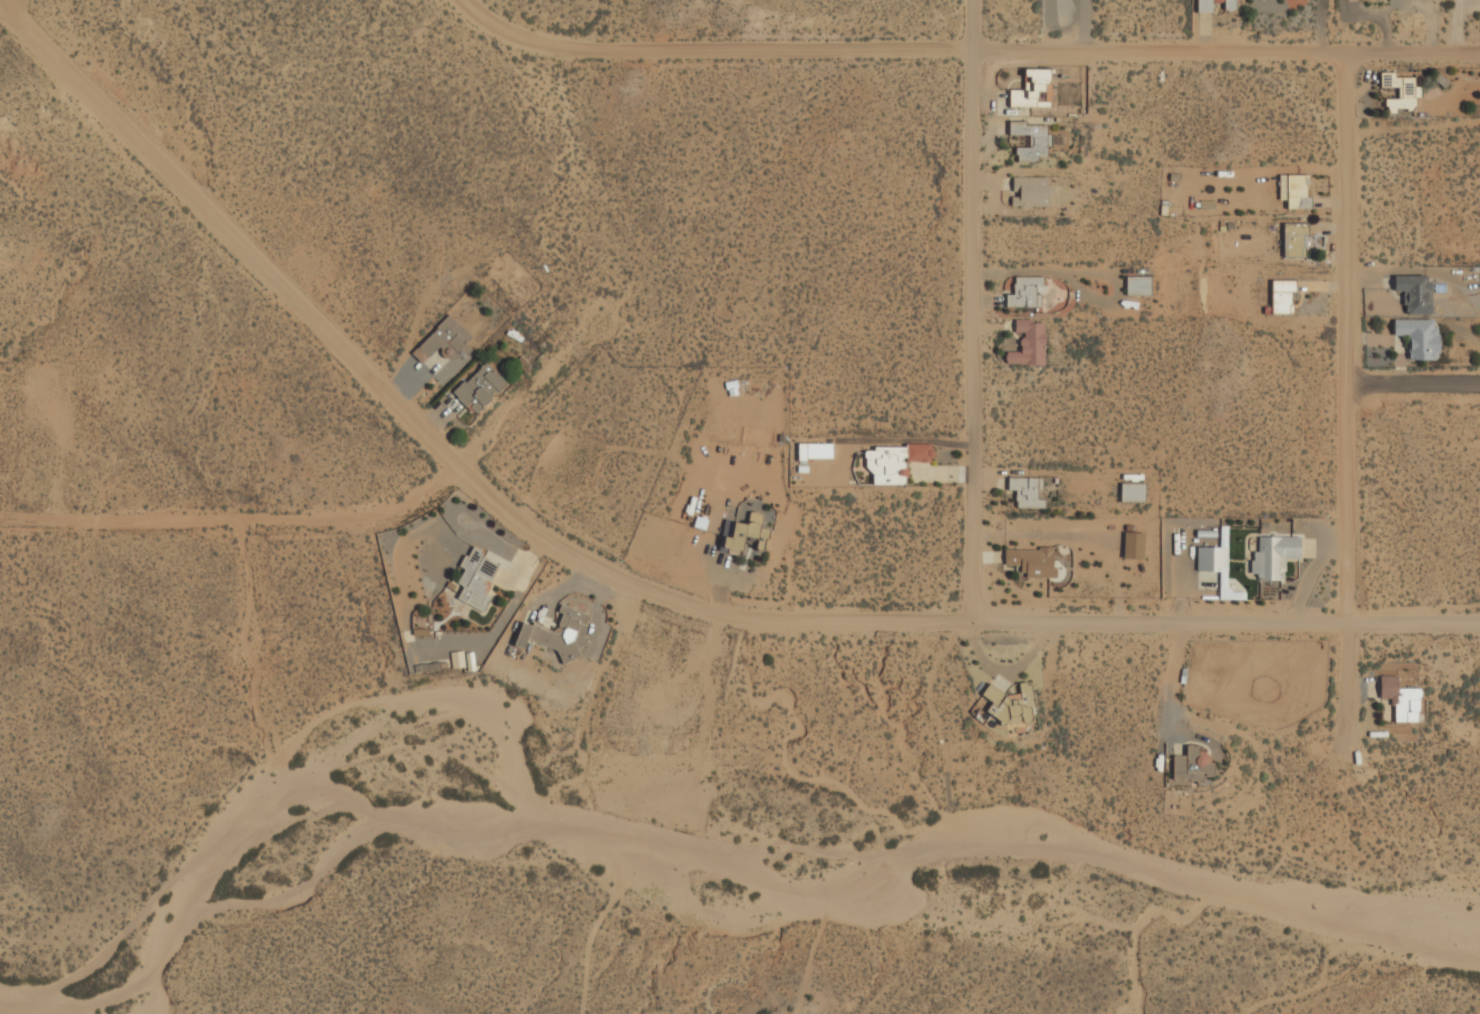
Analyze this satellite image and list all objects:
building: (1204, 6)
road: (480, 15)
road: (988, 51)
building: (1032, 90)
building: (1400, 92)
building: (1031, 141)
road: (130, 145)
building: (1294, 191)
building: (1029, 192)
building: (1294, 239)
building: (1137, 286)
building: (1024, 292)
building: (1414, 293)
building: (1281, 295)
road: (970, 311)
building: (1418, 338)
building: (1028, 343)
road: (1412, 383)
road: (1344, 403)
building: (893, 463)
road: (454, 468)
building: (1026, 492)
building: (1132, 492)
building: (1133, 546)
building: (1274, 556)
building: (1212, 558)
building: (1031, 561)
road: (816, 619)
building: (558, 634)
building: (1400, 699)
building: (1010, 704)
building: (1191, 766)

